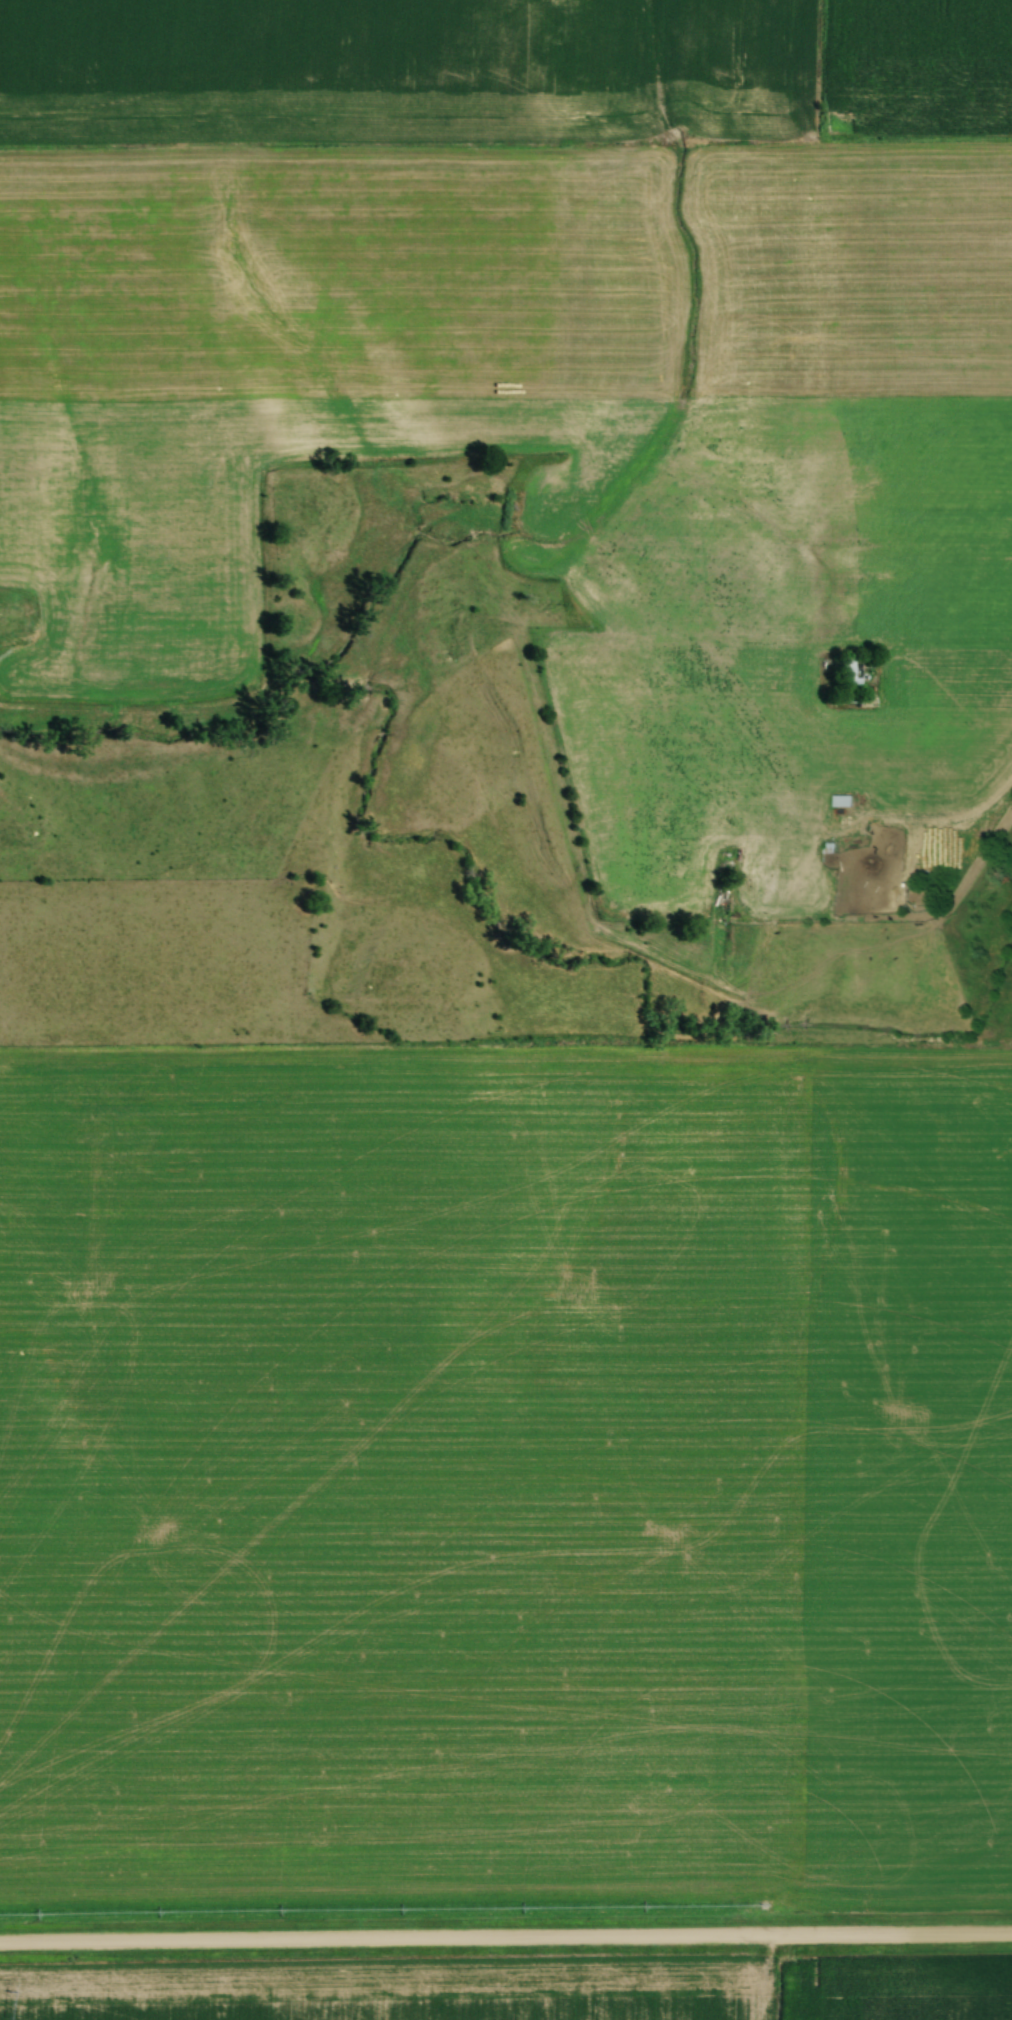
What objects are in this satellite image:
building: (849, 669)
building: (841, 801)
road: (506, 1940)

